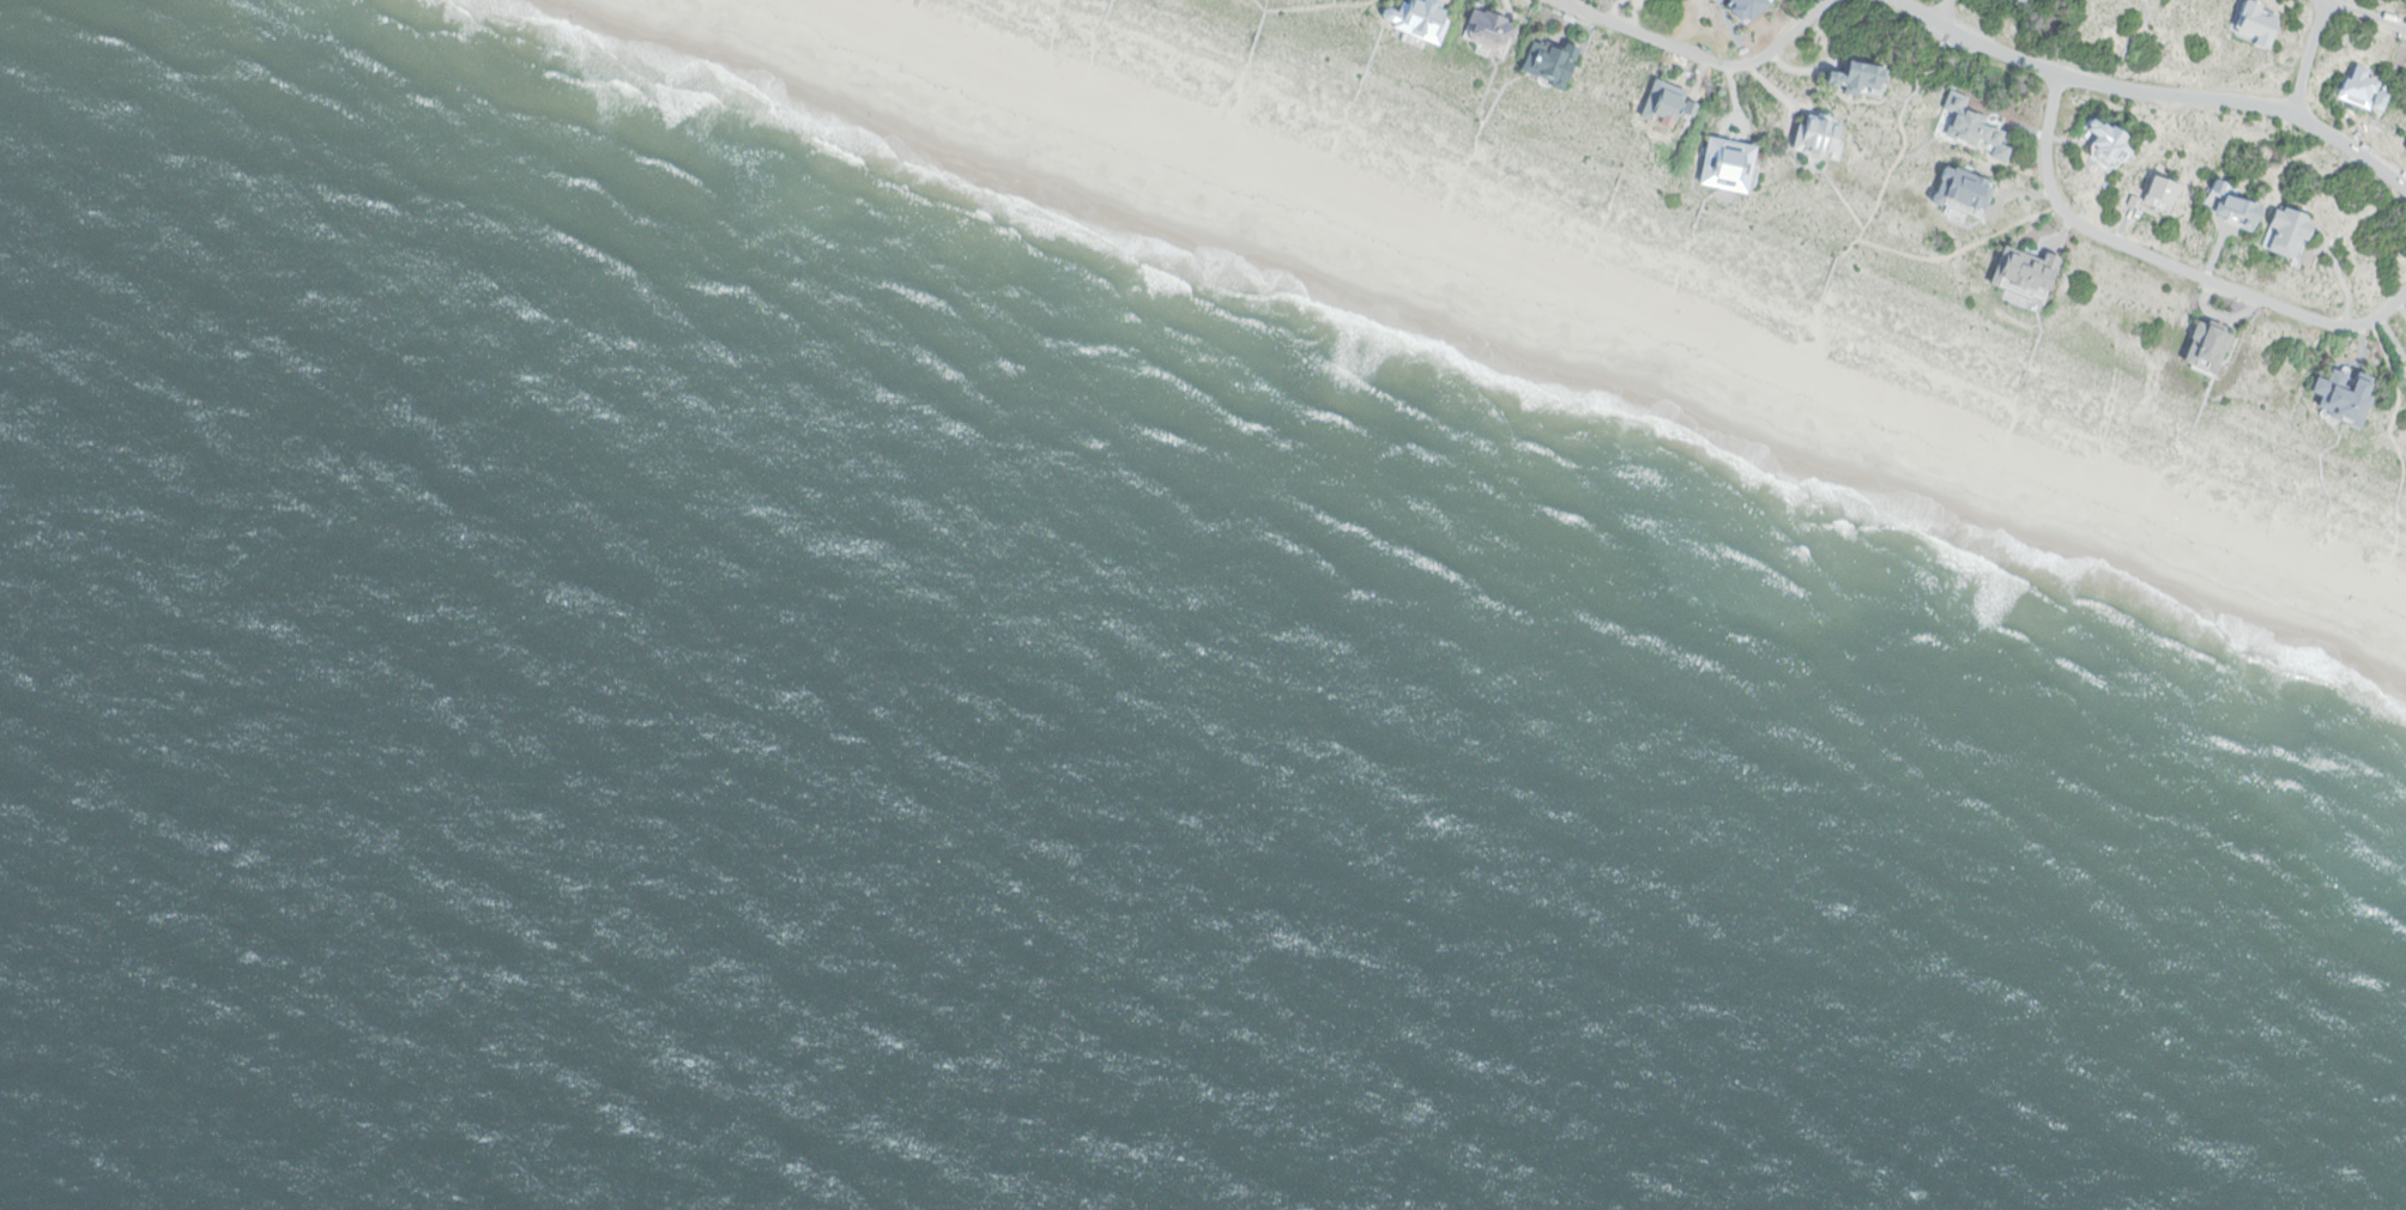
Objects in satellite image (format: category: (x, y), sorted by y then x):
building: (2025, 0)
building: (1751, 8)
road: (1943, 12)
road: (2369, 13)
building: (1422, 19)
building: (2259, 23)
building: (1494, 29)
road: (1700, 54)
road: (2310, 56)
building: (1552, 61)
building: (1858, 77)
building: (2365, 91)
road: (2157, 92)
building: (1669, 103)
building: (1976, 127)
road: (1904, 129)
building: (1820, 137)
building: (2110, 144)
building: (1731, 164)
building: (1965, 190)
building: (2166, 193)
building: (2134, 200)
building: (2238, 206)
building: (2291, 231)
road: (1924, 259)
road: (2168, 261)
building: (2030, 268)
building: (2211, 346)
building: (2348, 395)

